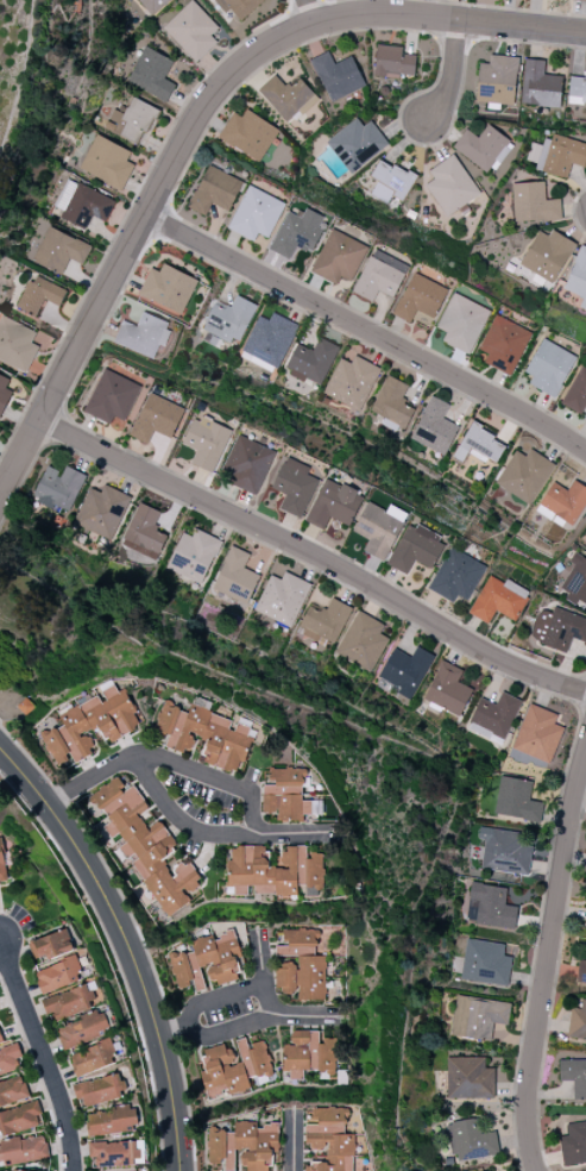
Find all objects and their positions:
building: (580, 0)
building: (152, 5)
building: (239, 6)
road: (309, 12)
road: (448, 19)
building: (191, 31)
building: (392, 62)
road: (448, 73)
building: (151, 74)
building: (336, 76)
building: (497, 80)
building: (540, 86)
building: (576, 89)
building: (288, 96)
building: (132, 120)
building: (248, 134)
building: (355, 144)
building: (483, 148)
building: (556, 155)
building: (107, 162)
building: (390, 181)
building: (450, 186)
building: (215, 190)
building: (81, 203)
building: (533, 203)
building: (256, 214)
building: (297, 232)
road: (132, 240)
building: (59, 250)
building: (547, 255)
building: (339, 257)
building: (379, 276)
building: (578, 277)
building: (166, 289)
building: (39, 295)
building: (420, 299)
building: (228, 319)
building: (461, 323)
road: (367, 332)
building: (143, 334)
building: (269, 339)
building: (15, 344)
building: (503, 344)
building: (311, 361)
building: (549, 368)
building: (351, 382)
building: (4, 392)
building: (576, 392)
building: (112, 396)
building: (392, 403)
building: (156, 418)
building: (434, 427)
building: (206, 443)
building: (480, 445)
building: (247, 464)
building: (524, 475)
building: (294, 487)
building: (58, 488)
building: (563, 502)
building: (334, 505)
building: (101, 511)
building: (379, 528)
building: (143, 532)
building: (415, 549)
building: (193, 555)
road: (313, 555)
building: (235, 576)
building: (456, 576)
building: (575, 581)
building: (282, 599)
building: (497, 600)
building: (323, 622)
building: (557, 628)
building: (361, 641)
building: (404, 670)
building: (447, 689)
building: (494, 715)
building: (90, 725)
building: (537, 734)
building: (203, 735)
road: (208, 775)
building: (284, 794)
building: (516, 800)
road: (179, 819)
building: (145, 845)
building: (504, 851)
building: (1, 869)
building: (272, 871)
building: (489, 907)
building: (50, 945)
road: (125, 946)
road: (547, 959)
building: (207, 962)
building: (485, 963)
building: (301, 965)
road: (262, 972)
building: (581, 972)
building: (57, 975)
road: (213, 1000)
building: (68, 1002)
building: (478, 1016)
road: (247, 1021)
building: (578, 1021)
building: (82, 1029)
building: (0, 1041)
building: (308, 1053)
road: (42, 1054)
building: (8, 1058)
building: (92, 1058)
building: (233, 1066)
building: (574, 1076)
building: (470, 1078)
building: (12, 1089)
building: (97, 1090)
building: (19, 1119)
building: (111, 1121)
building: (328, 1138)
building: (470, 1139)
road: (292, 1140)
building: (574, 1142)
building: (244, 1145)
building: (23, 1150)
building: (113, 1153)
building: (13, 1170)
building: (487, 1170)

